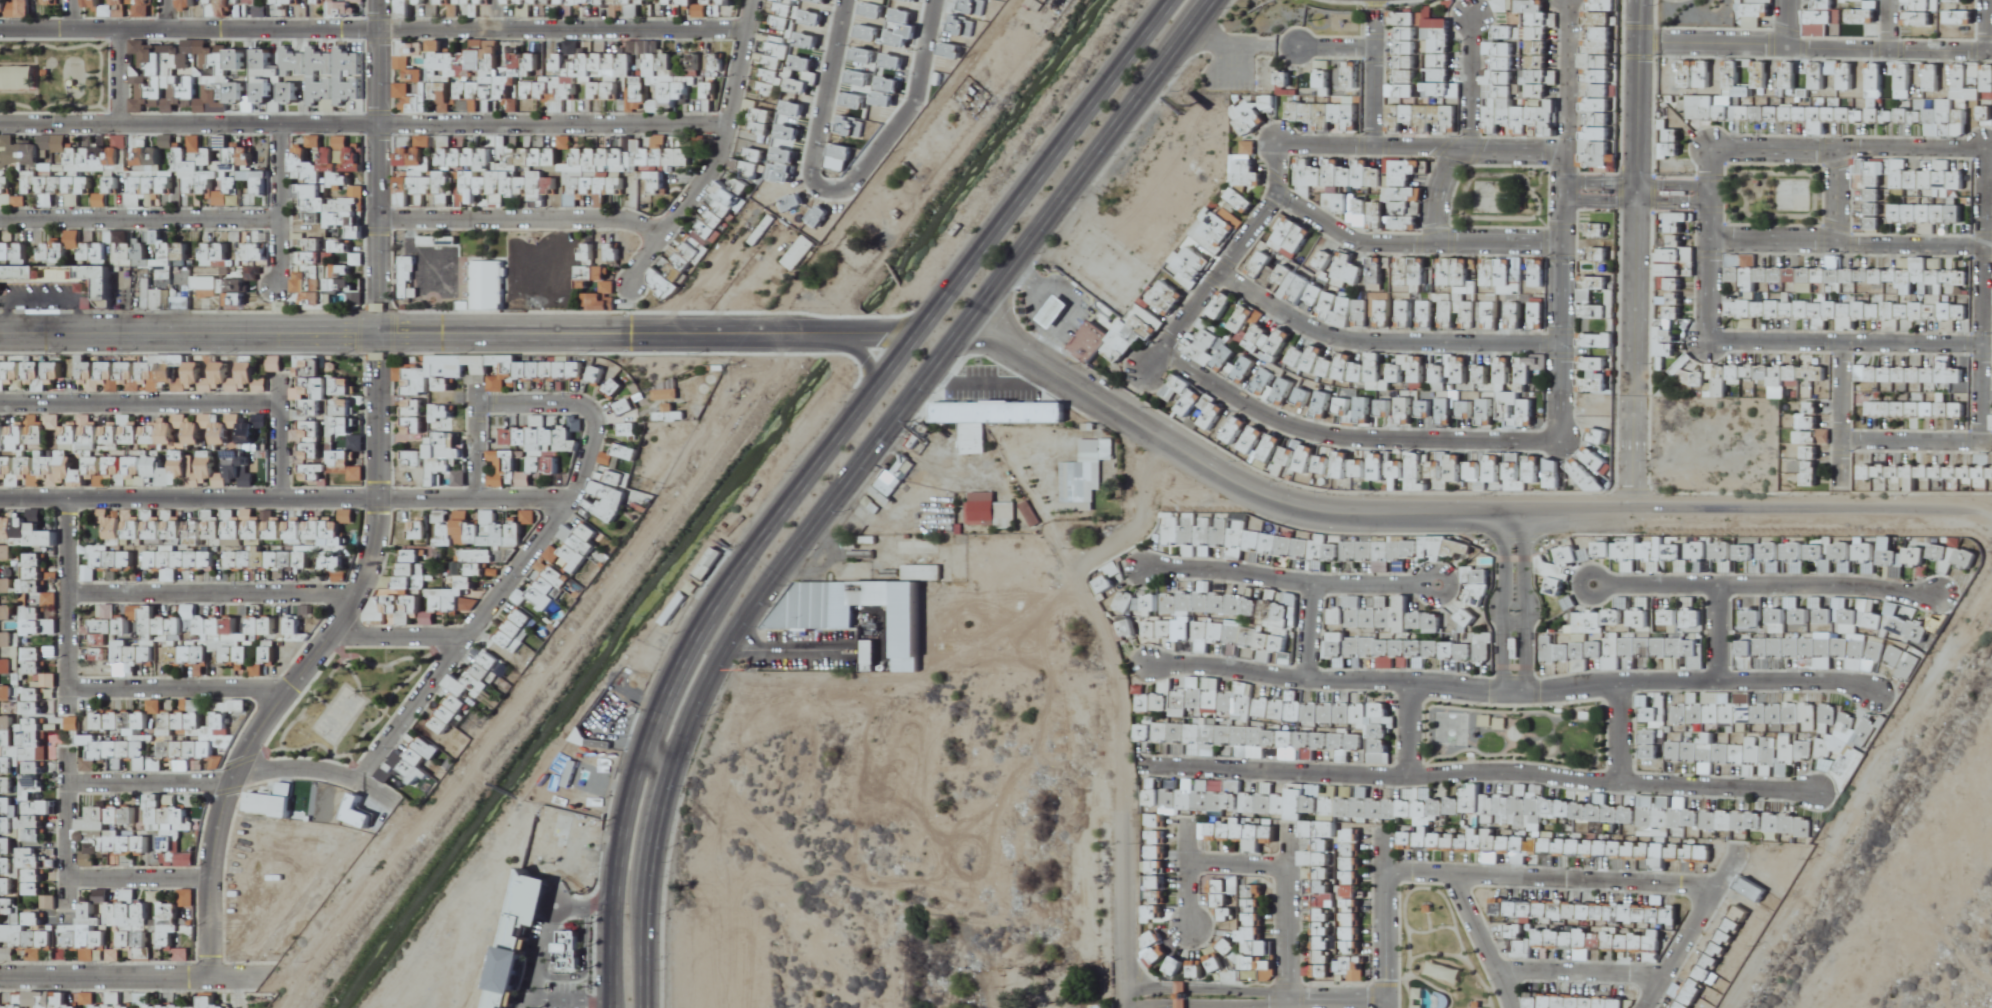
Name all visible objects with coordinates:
park: (1697, 10)
park: (55, 78)
park: (1776, 191)
park: (1502, 193)
park: (351, 702)
park: (1519, 729)
park: (1439, 952)

